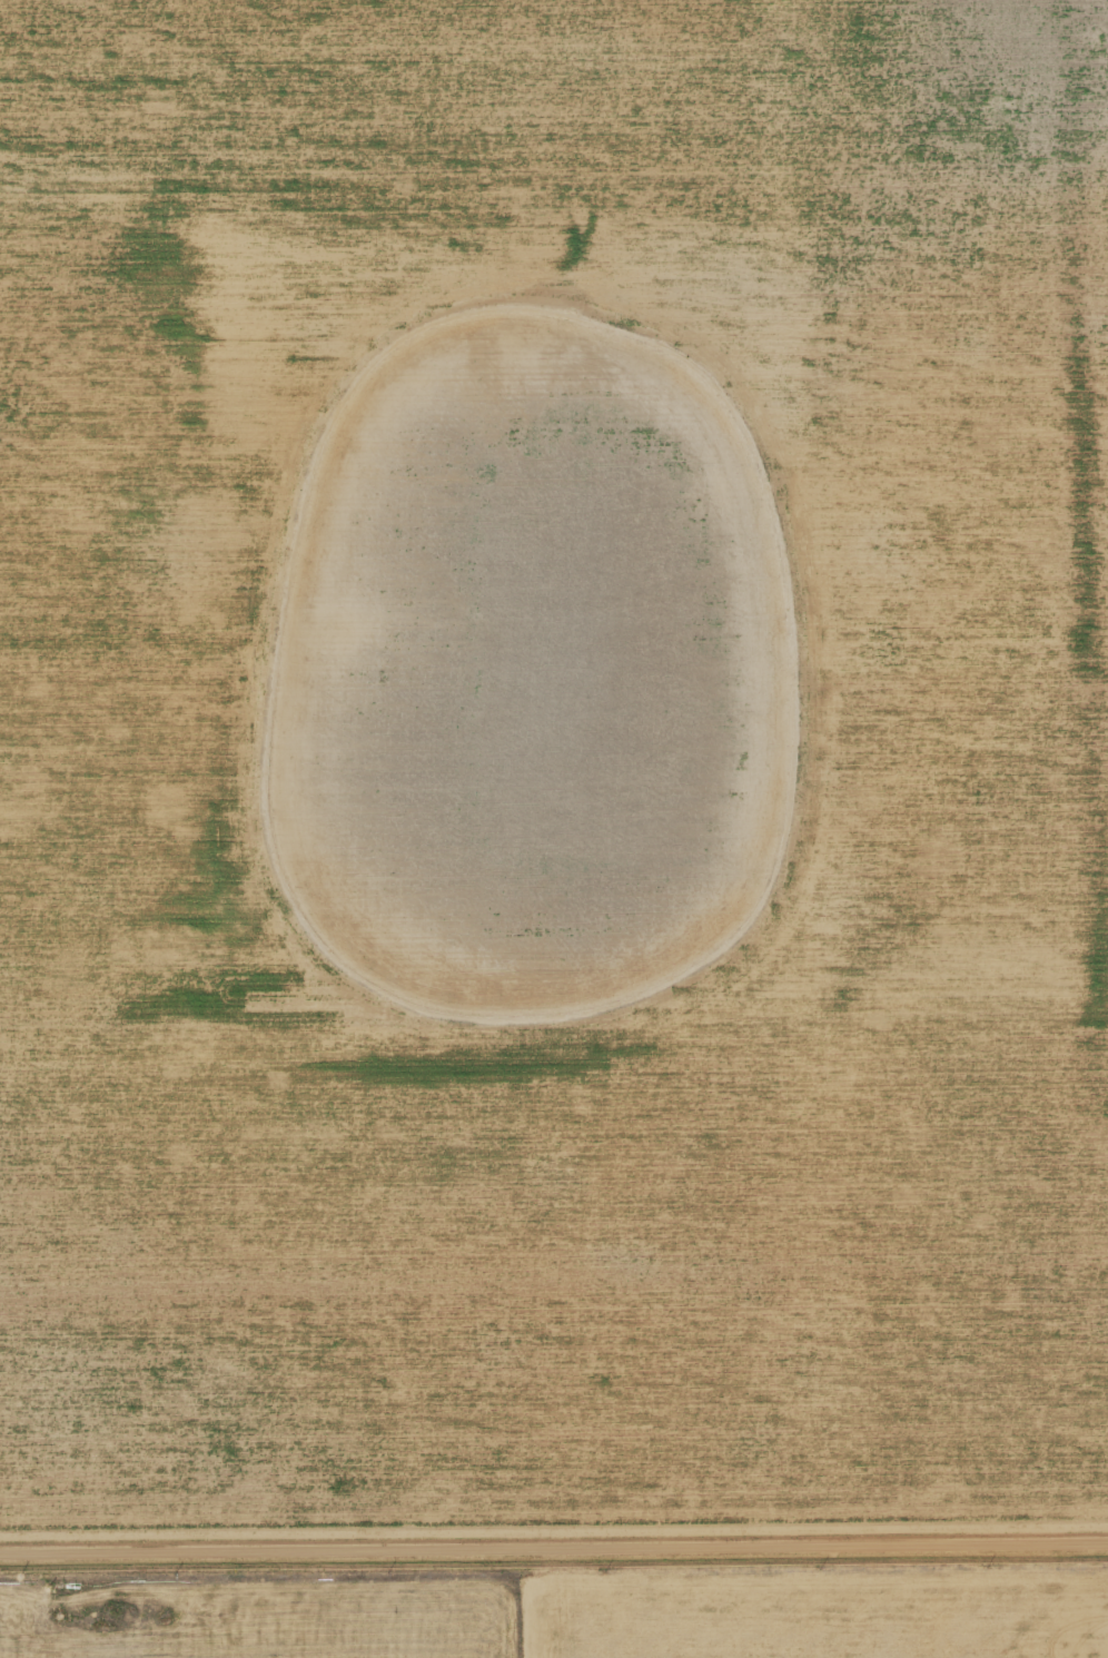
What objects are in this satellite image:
road: (554, 1559)

